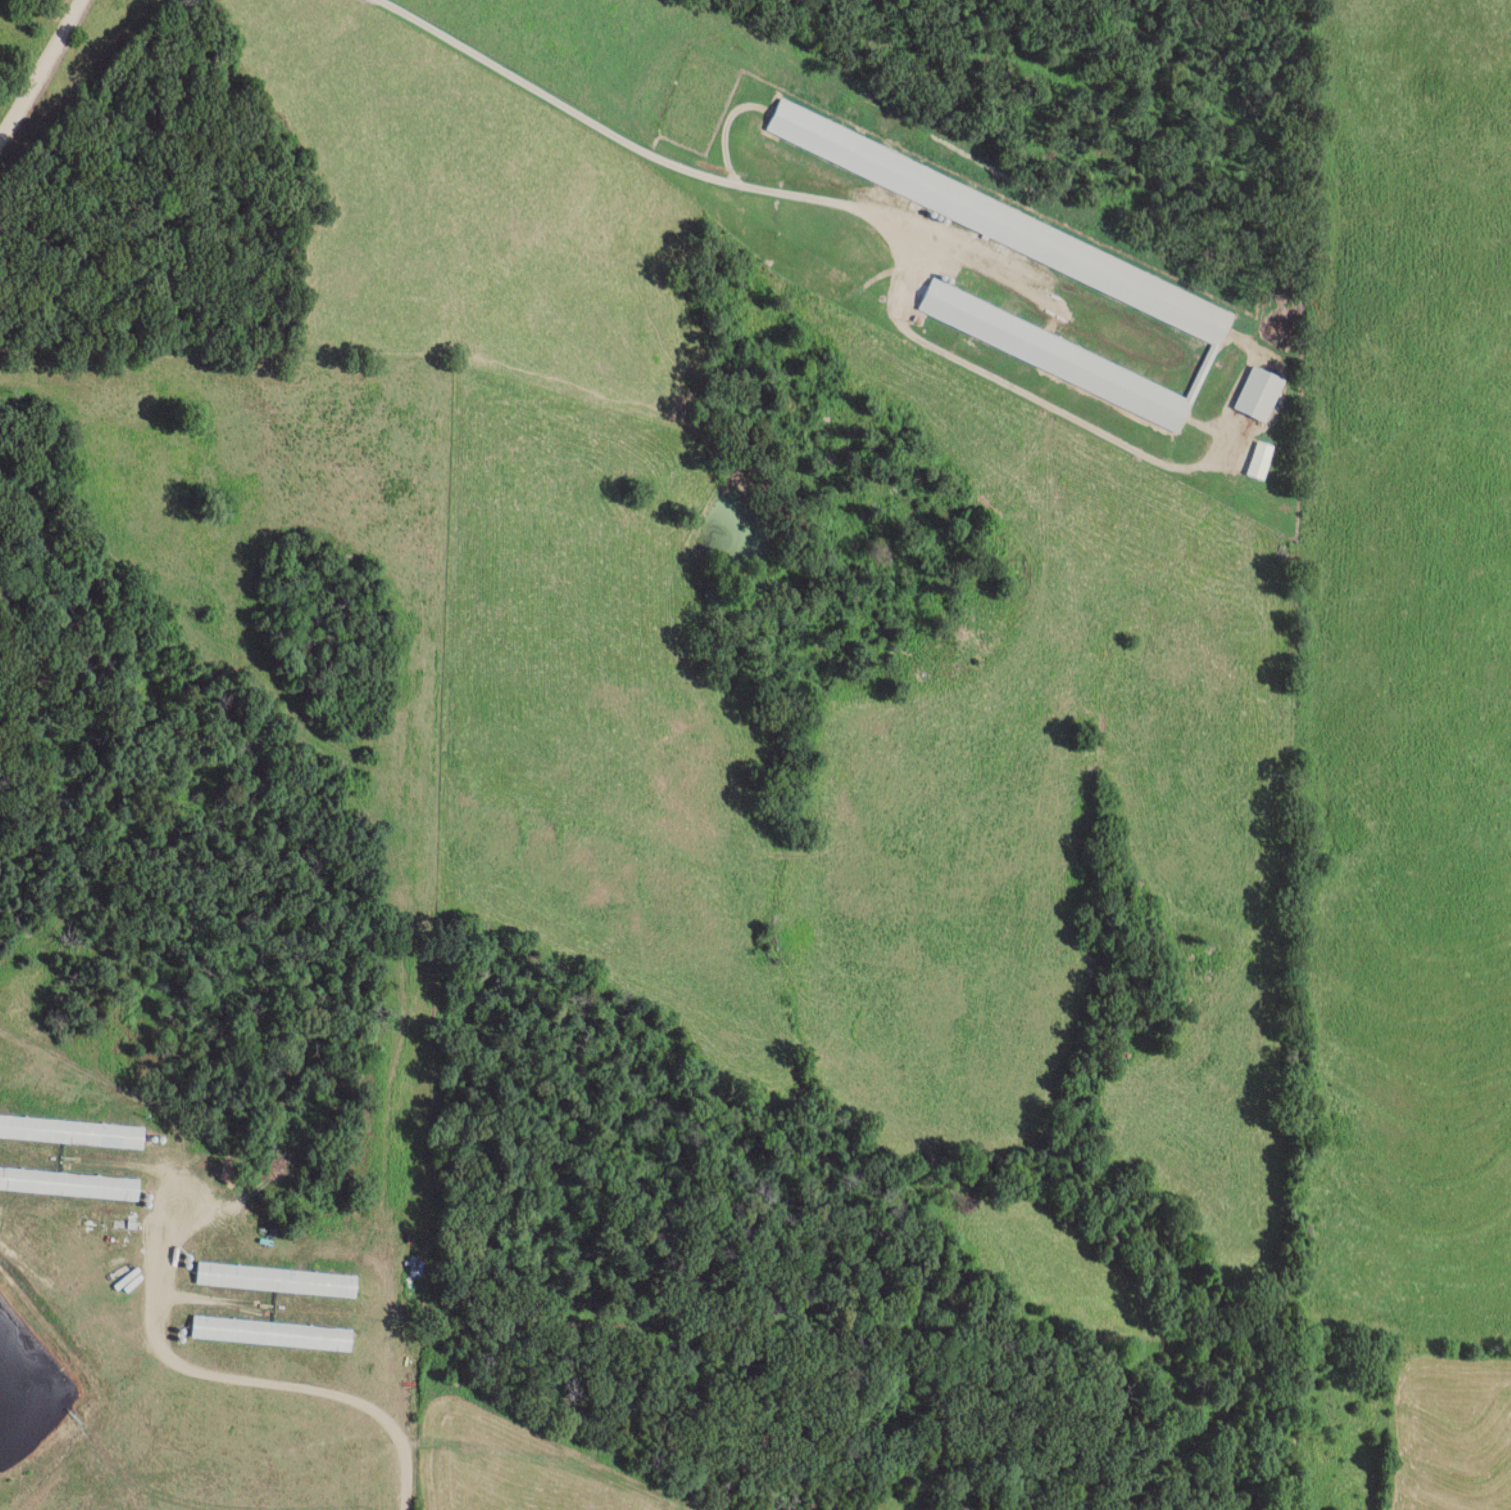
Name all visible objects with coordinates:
road: (40, 70)
road: (634, 144)
building: (921, 185)
building: (1155, 297)
building: (1059, 356)
building: (1257, 394)
building: (1259, 460)
building: (70, 1132)
building: (69, 1183)
building: (276, 1280)
building: (271, 1333)
road: (331, 1398)

